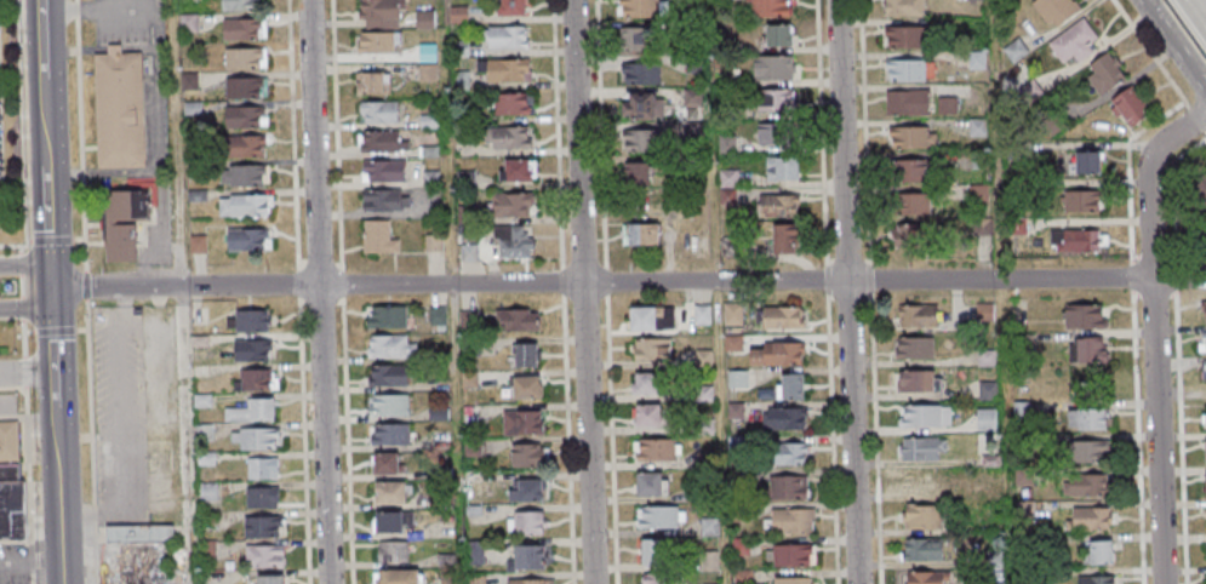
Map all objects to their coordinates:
building: (970, 0)
building: (185, 1)
building: (687, 2)
building: (238, 6)
building: (901, 7)
road: (76, 8)
building: (509, 8)
building: (638, 8)
building: (767, 8)
building: (1056, 8)
road: (1198, 10)
building: (377, 13)
building: (456, 15)
building: (422, 19)
building: (187, 24)
road: (156, 25)
building: (239, 30)
road: (76, 32)
building: (776, 36)
building: (503, 38)
building: (902, 38)
building: (630, 40)
building: (1074, 40)
building: (373, 44)
road: (1174, 44)
road: (78, 48)
building: (457, 50)
building: (1012, 51)
building: (424, 55)
building: (240, 59)
building: (974, 61)
building: (691, 63)
parking lot: (144, 64)
road: (1159, 64)
building: (772, 69)
building: (504, 71)
building: (903, 71)
building: (1105, 73)
building: (425, 74)
building: (639, 74)
building: (458, 79)
building: (187, 82)
building: (370, 85)
building: (240, 88)
building: (1027, 91)
building: (691, 98)
building: (772, 102)
building: (904, 104)
building: (1130, 104)
building: (505, 105)
building: (944, 107)
building: (120, 108)
building: (636, 108)
building: (189, 109)
road: (79, 110)
building: (377, 113)
building: (721, 113)
building: (240, 118)
building: (425, 122)
building: (1052, 124)
building: (974, 128)
road: (19, 130)
building: (692, 131)
road: (293, 133)
road: (337, 134)
building: (775, 134)
building: (909, 138)
building: (505, 139)
road: (176, 142)
building: (641, 142)
road: (47, 143)
building: (379, 143)
building: (725, 145)
building: (241, 147)
building: (1012, 151)
building: (427, 153)
building: (976, 161)
building: (1086, 162)
building: (695, 165)
building: (779, 170)
road: (81, 171)
building: (905, 171)
road: (108, 172)
building: (193, 172)
building: (381, 172)
building: (513, 172)
building: (634, 176)
building: (241, 177)
building: (429, 179)
building: (726, 179)
building: (463, 181)
building: (1013, 188)
building: (1200, 189)
building: (976, 193)
building: (195, 196)
building: (726, 197)
building: (1081, 200)
building: (381, 201)
building: (908, 205)
building: (508, 206)
building: (242, 207)
building: (776, 207)
building: (464, 214)
road: (84, 223)
building: (1013, 227)
building: (979, 228)
building: (641, 236)
building: (908, 236)
building: (376, 239)
building: (783, 239)
building: (1075, 239)
building: (244, 240)
building: (510, 242)
building: (119, 244)
building: (195, 245)
building: (431, 245)
building: (728, 247)
road: (159, 251)
building: (467, 253)
road: (17, 264)
road: (25, 264)
road: (302, 264)
road: (320, 264)
road: (338, 264)
road: (298, 281)
road: (628, 282)
road: (85, 284)
road: (342, 284)
road: (18, 286)
traffic signals: (52, 287)
road: (318, 291)
road: (607, 291)
road: (562, 292)
road: (582, 292)
road: (828, 292)
road: (846, 292)
road: (870, 292)
road: (304, 299)
road: (322, 300)
road: (339, 302)
building: (1204, 305)
road: (25, 308)
road: (19, 309)
building: (982, 313)
building: (701, 315)
building: (731, 315)
building: (1085, 315)
building: (914, 317)
building: (384, 319)
building: (435, 319)
building: (781, 319)
building: (467, 320)
building: (640, 320)
building: (514, 321)
building: (247, 322)
road: (52, 330)
road: (1153, 333)
building: (1204, 336)
road: (21, 339)
building: (196, 342)
building: (732, 344)
building: (388, 348)
building: (469, 348)
building: (1088, 349)
building: (650, 350)
building: (911, 350)
building: (248, 351)
building: (438, 354)
building: (775, 355)
building: (525, 357)
building: (701, 360)
building: (984, 360)
building: (1205, 365)
road: (22, 372)
road: (27, 373)
building: (385, 377)
building: (467, 380)
building: (736, 380)
building: (250, 382)
building: (911, 383)
building: (642, 385)
building: (524, 388)
building: (788, 389)
building: (985, 391)
building: (701, 394)
building: (200, 401)
building: (387, 407)
building: (732, 411)
building: (250, 413)
parking lot: (135, 414)
building: (435, 414)
building: (469, 417)
building: (646, 417)
building: (922, 418)
building: (1086, 418)
building: (782, 419)
building: (983, 422)
building: (520, 424)
building: (701, 428)
building: (202, 433)
road: (183, 435)
building: (390, 436)
road: (303, 439)
road: (1134, 439)
building: (253, 440)
road: (348, 440)
building: (439, 440)
building: (7, 441)
road: (90, 441)
building: (733, 443)
building: (469, 450)
building: (919, 450)
building: (1205, 450)
building: (1088, 451)
building: (653, 452)
building: (784, 456)
building: (525, 458)
building: (205, 459)
building: (703, 460)
building: (988, 462)
building: (384, 466)
building: (261, 470)
building: (7, 474)
building: (441, 474)
building: (1022, 477)
road: (58, 479)
building: (736, 479)
building: (1086, 483)
building: (918, 485)
building: (1205, 485)
road: (25, 486)
building: (648, 486)
building: (783, 489)
building: (524, 493)
building: (206, 494)
building: (387, 494)
building: (704, 494)
building: (259, 499)
building: (441, 500)
building: (1023, 510)
building: (11, 511)
building: (471, 513)
building: (737, 514)
building: (1090, 517)
building: (658, 519)
building: (920, 519)
building: (206, 521)
building: (790, 522)
building: (390, 523)
building: (526, 525)
building: (263, 526)
building: (707, 527)
building: (137, 534)
building: (1024, 544)
building: (739, 546)
building: (206, 550)
building: (920, 551)
building: (1099, 552)
building: (390, 554)
building: (474, 554)
building: (650, 554)
building: (265, 555)
building: (789, 556)
building: (139, 560)
building: (525, 560)
building: (990, 560)
building: (444, 561)
building: (708, 561)
parking lot: (13, 563)
building: (741, 577)
building: (396, 578)
building: (926, 578)
building: (270, 579)
building: (475, 579)
building: (659, 579)
building: (1096, 579)
building: (145, 580)
building: (445, 582)
building: (528, 582)
building: (789, 582)

